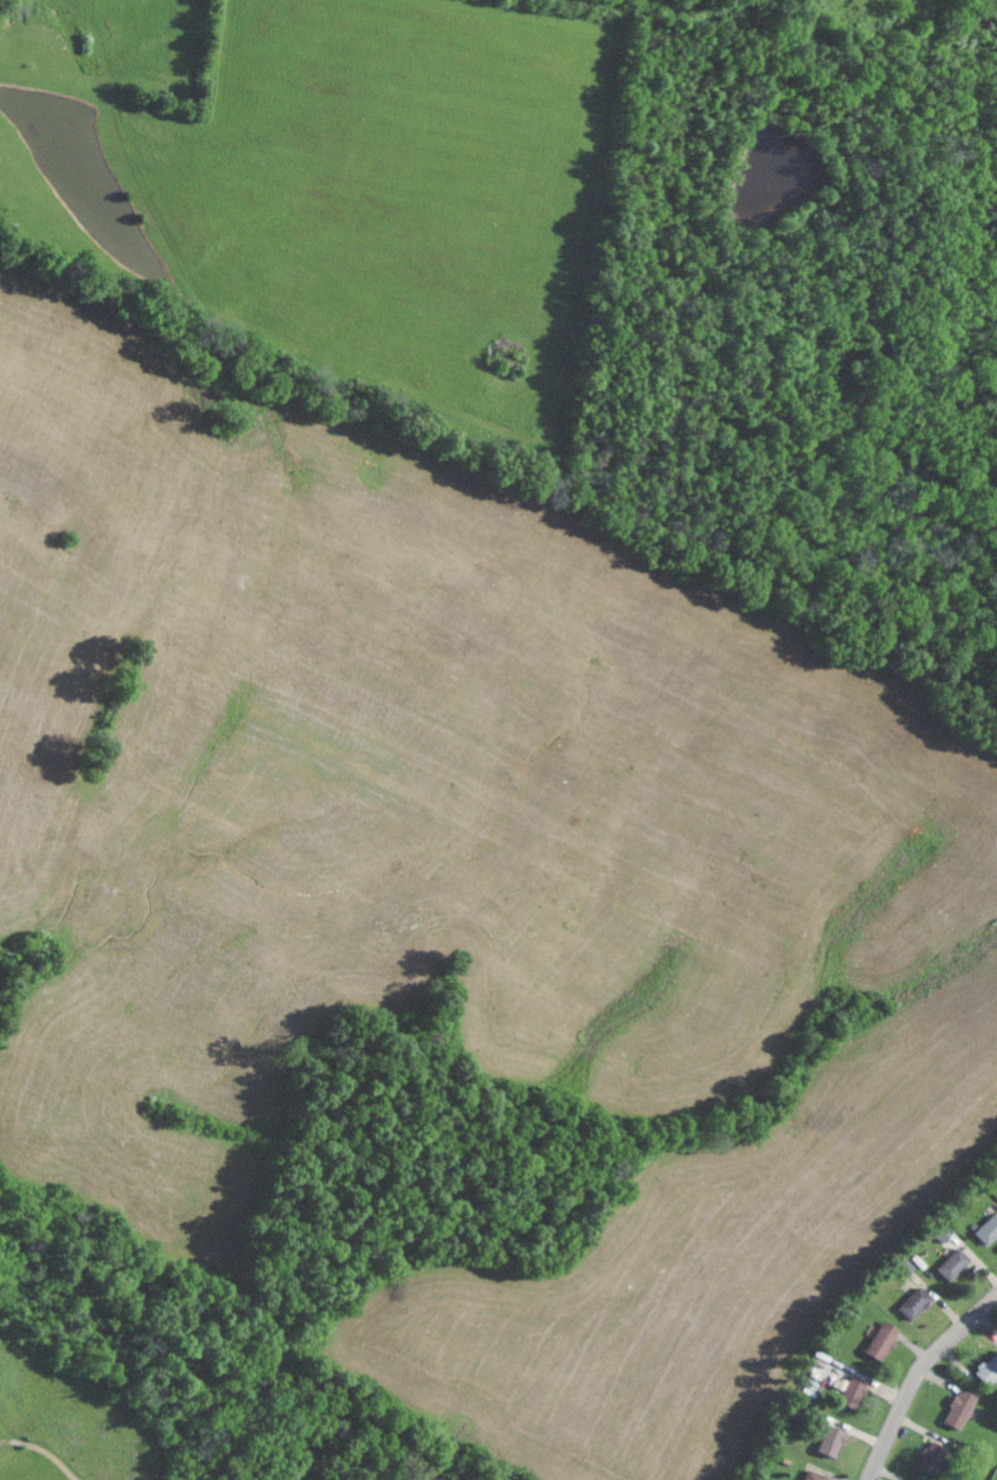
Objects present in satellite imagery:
building: (990, 1231)
building: (958, 1264)
building: (918, 1302)
building: (886, 1340)
building: (989, 1370)
road: (926, 1386)
building: (854, 1390)
building: (963, 1408)
building: (837, 1440)
building: (936, 1457)
building: (818, 1476)

